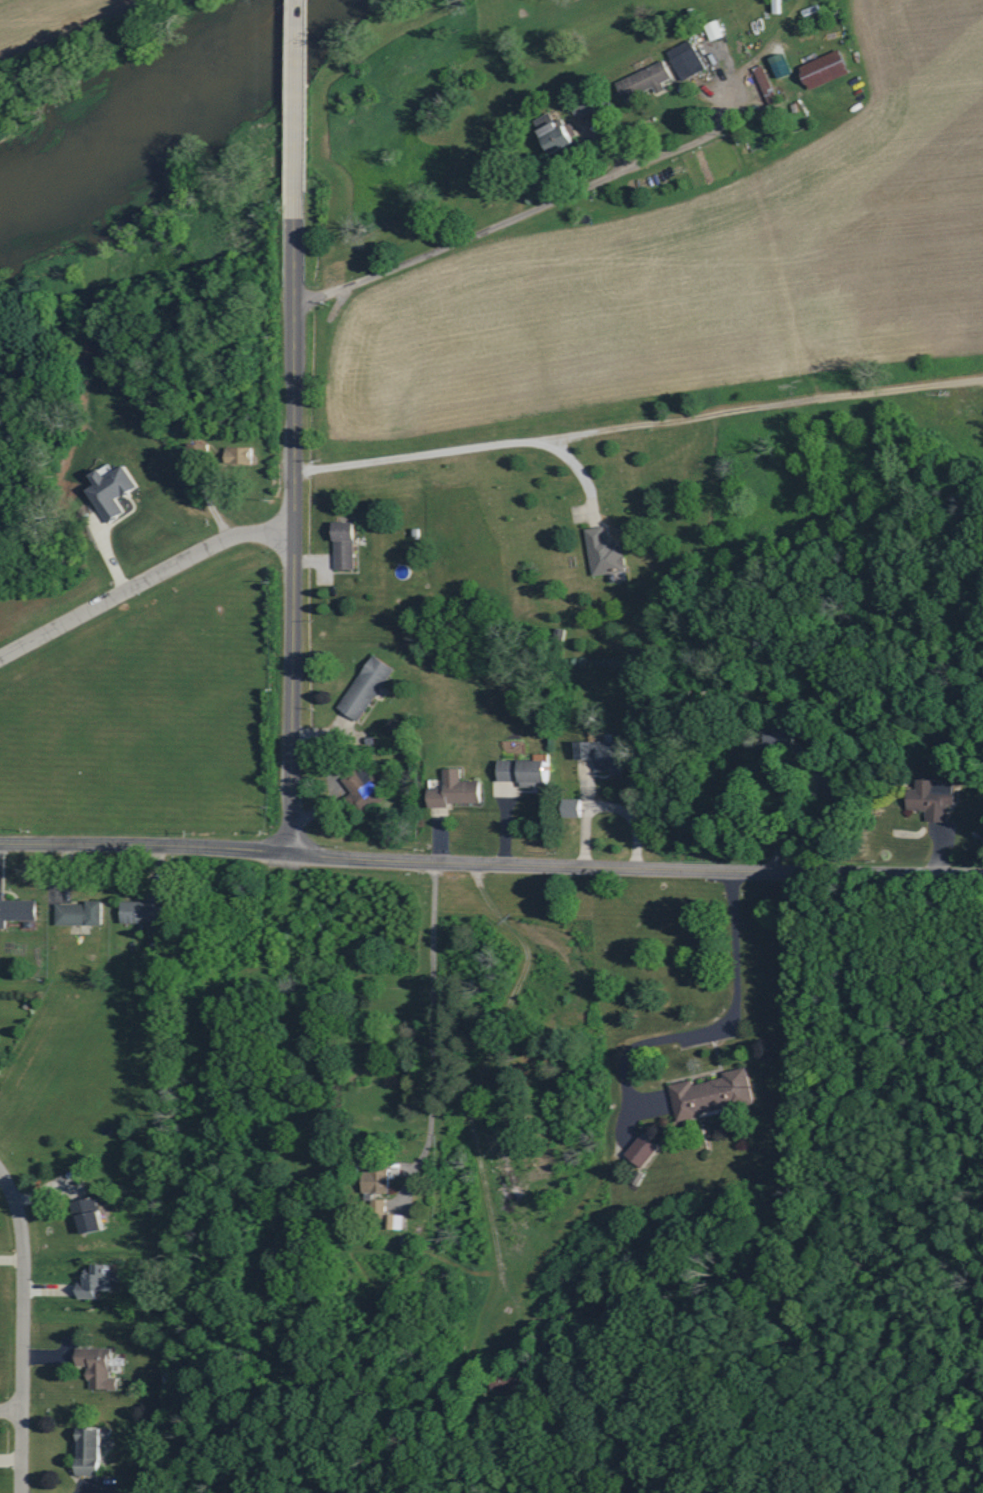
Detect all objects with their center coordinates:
building: (716, 31)
building: (688, 60)
building: (783, 69)
building: (826, 69)
building: (764, 79)
building: (646, 81)
road: (295, 108)
river: (155, 115)
building: (560, 134)
road: (517, 213)
road: (466, 447)
building: (240, 455)
building: (113, 490)
road: (293, 535)
building: (346, 545)
building: (606, 552)
road: (143, 583)
building: (367, 687)
building: (818, 745)
building: (604, 755)
building: (527, 772)
building: (830, 785)
building: (456, 790)
building: (364, 791)
building: (935, 798)
building: (573, 807)
road: (491, 862)
building: (17, 910)
building: (148, 912)
building: (81, 913)
road: (427, 1029)
road: (719, 1037)
building: (713, 1094)
road: (612, 1146)
building: (644, 1150)
building: (379, 1180)
building: (91, 1215)
building: (398, 1222)
building: (97, 1279)
road: (16, 1336)
building: (99, 1367)
road: (8, 1415)
building: (92, 1451)

